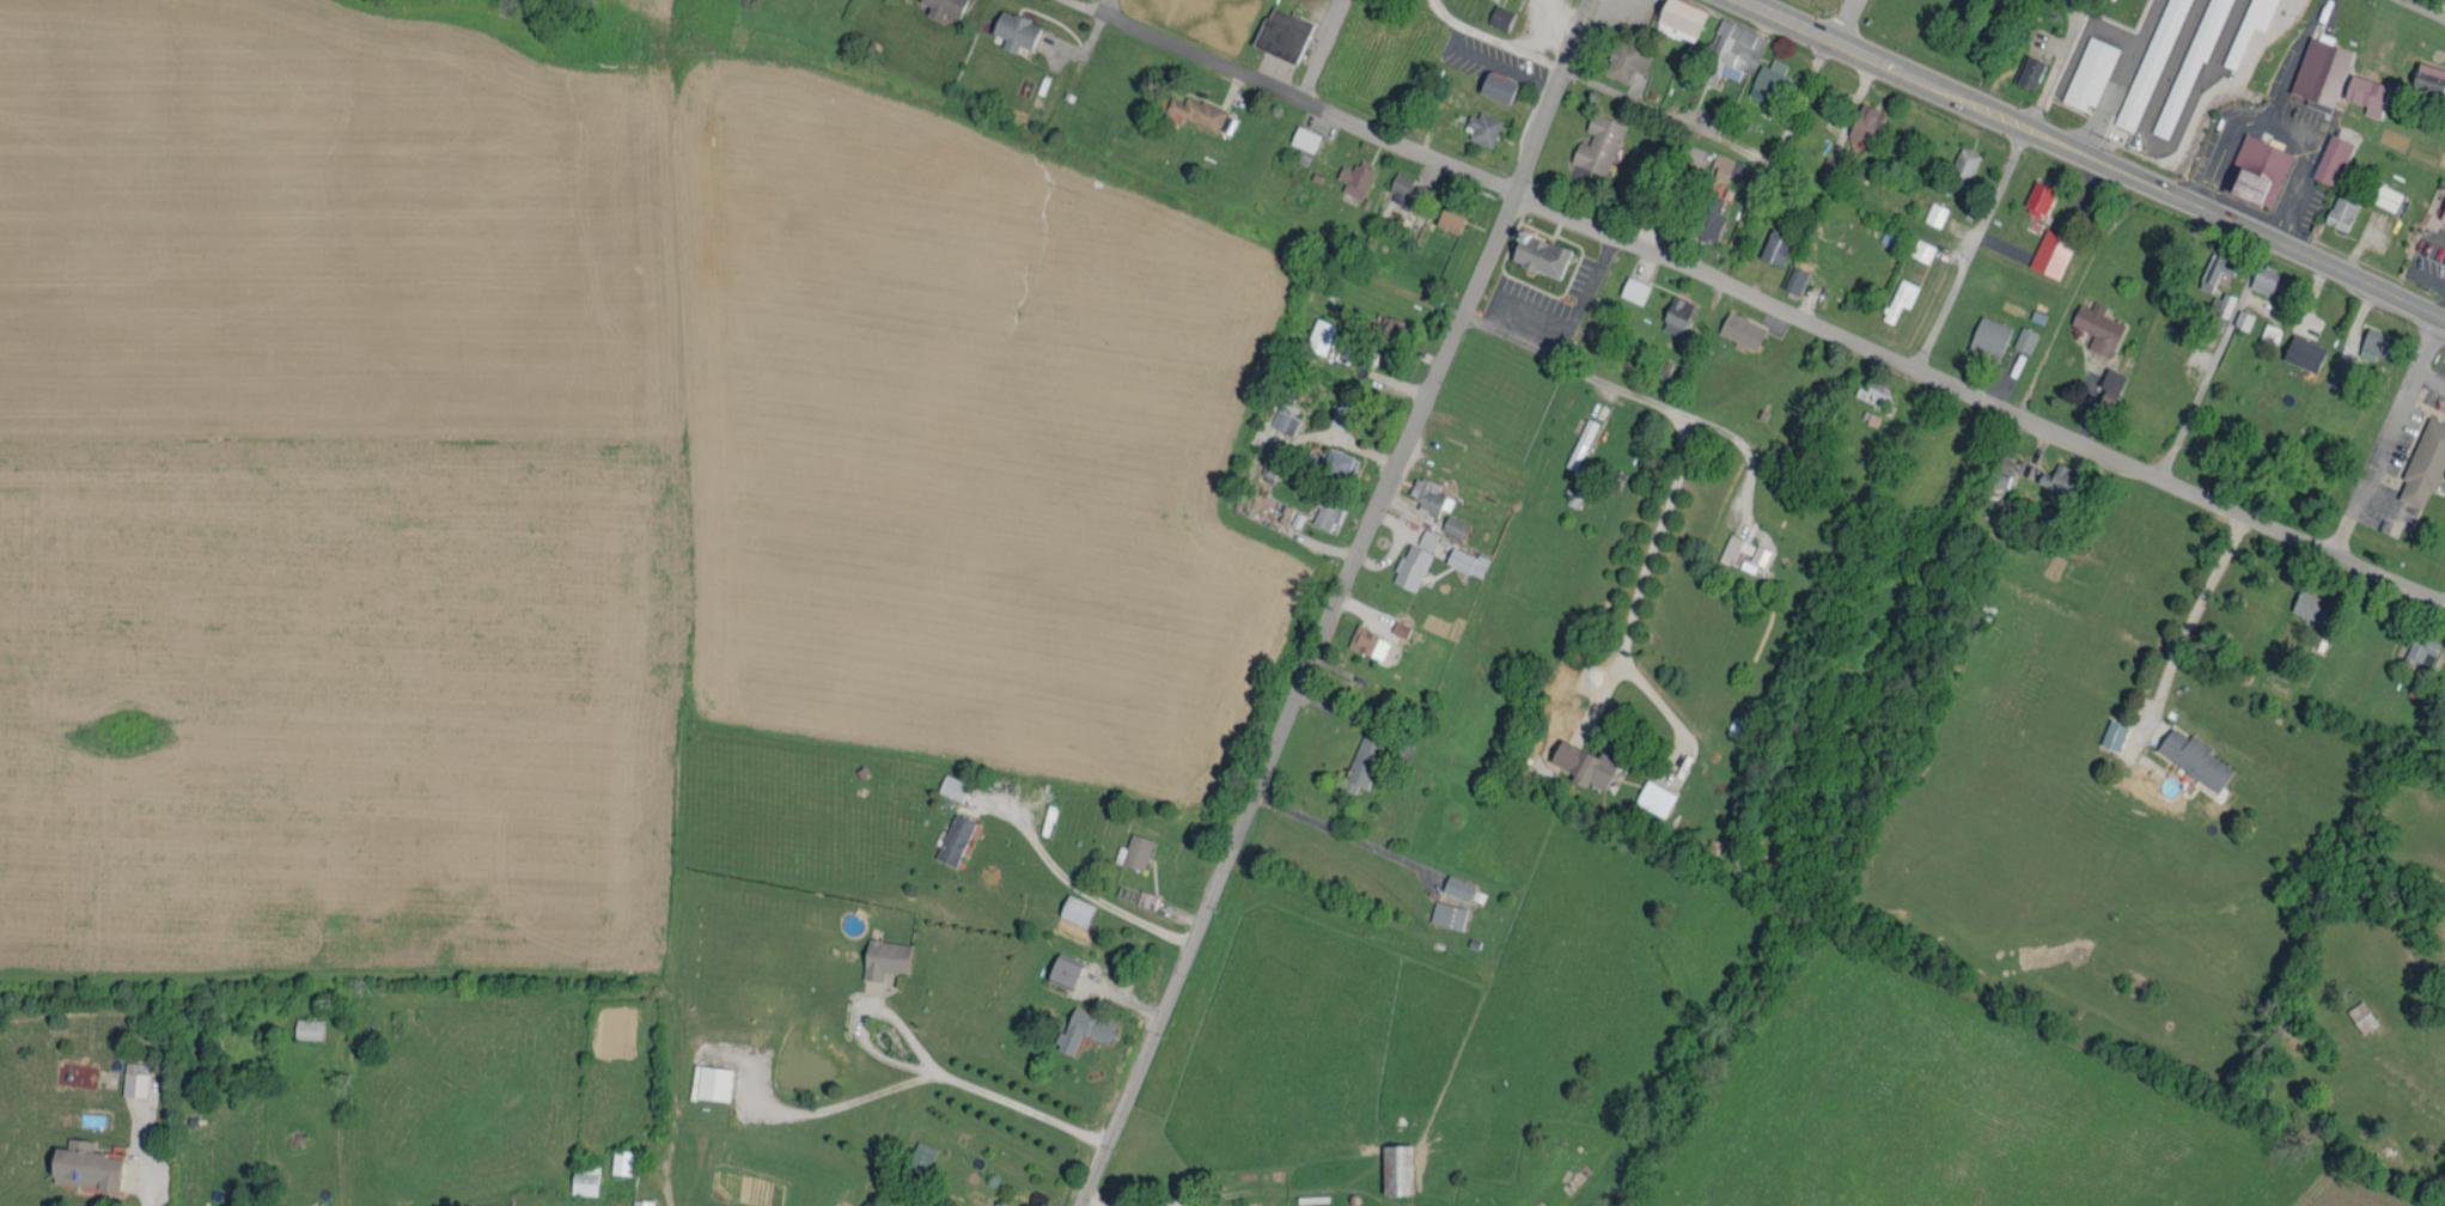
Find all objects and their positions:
building: (937, 6)
road: (1106, 7)
road: (2426, 8)
building: (1494, 13)
building: (1675, 17)
road: (1850, 22)
building: (2243, 25)
building: (1008, 26)
building: (1276, 30)
building: (1743, 45)
building: (1719, 47)
road: (1327, 50)
road: (1621, 50)
building: (1621, 56)
road: (2291, 56)
building: (2145, 62)
building: (2025, 67)
building: (2315, 67)
building: (2085, 69)
building: (1762, 74)
building: (2426, 74)
building: (1490, 83)
building: (2360, 90)
road: (1294, 97)
building: (1191, 108)
road: (1653, 110)
building: (1860, 118)
road: (2288, 123)
building: (1477, 124)
building: (1298, 134)
building: (1593, 140)
road: (2221, 150)
building: (2325, 156)
road: (2095, 157)
building: (1720, 162)
building: (1823, 164)
building: (1957, 164)
building: (2251, 166)
building: (1350, 173)
building: (1394, 182)
road: (2000, 184)
building: (2380, 194)
building: (2032, 195)
building: (2440, 207)
building: (2335, 208)
building: (1929, 211)
building: (1703, 215)
building: (1443, 217)
building: (1770, 243)
building: (1917, 246)
building: (2045, 249)
building: (1535, 251)
building: (2211, 263)
building: (1788, 275)
building: (2257, 275)
building: (1628, 286)
building: (1895, 296)
building: (2219, 300)
road: (2239, 306)
road: (2440, 306)
building: (1670, 311)
building: (2237, 316)
building: (1384, 321)
building: (2092, 324)
building: (1736, 327)
building: (2266, 330)
building: (1315, 331)
road: (1562, 334)
building: (1983, 334)
building: (2019, 336)
building: (2372, 339)
building: (2298, 349)
building: (2104, 385)
road: (1624, 390)
building: (1868, 390)
road: (1980, 396)
building: (1337, 410)
building: (1280, 413)
road: (2385, 433)
road: (1740, 443)
building: (1333, 459)
building: (2421, 459)
building: (1996, 468)
building: (2054, 475)
building: (1421, 491)
building: (1319, 510)
building: (1449, 523)
building: (1422, 535)
building: (1737, 548)
building: (1462, 558)
building: (1406, 564)
road: (1642, 574)
building: (2304, 602)
road: (1340, 603)
road: (2193, 615)
building: (1362, 639)
building: (2416, 646)
building: (2108, 731)
building: (2189, 755)
building: (1358, 757)
building: (1578, 761)
building: (946, 782)
building: (1648, 794)
road: (1341, 830)
building: (949, 836)
building: (1128, 848)
building: (1452, 883)
road: (1081, 896)
building: (1141, 896)
building: (1069, 907)
building: (1443, 910)
building: (878, 955)
building: (1057, 967)
building: (2355, 1013)
building: (301, 1024)
building: (1078, 1025)
building: (129, 1076)
building: (705, 1079)
road: (955, 1088)
building: (914, 1155)
building: (615, 1158)
building: (78, 1163)
building: (1391, 1167)
building: (579, 1175)
building: (636, 1200)
building: (993, 1204)
road: (1142, 1205)

